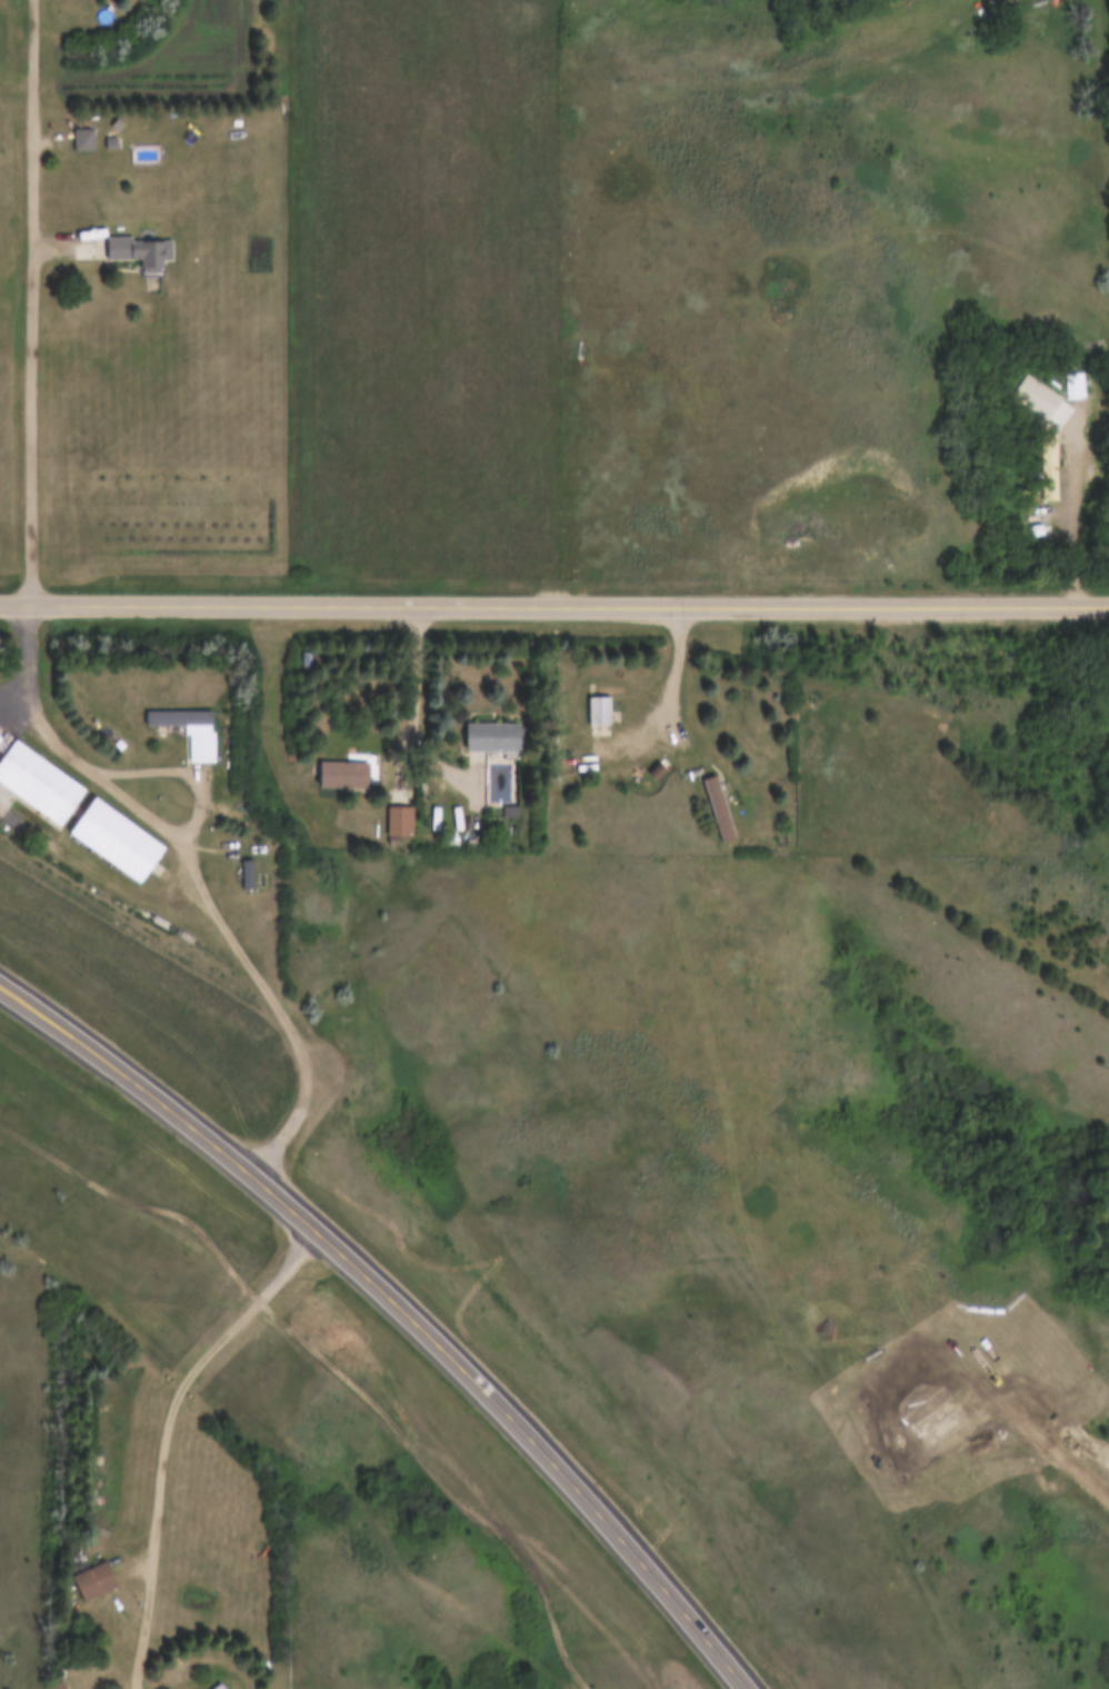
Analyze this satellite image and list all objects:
building: (79, 141)
building: (138, 251)
road: (36, 301)
road: (553, 603)
road: (30, 652)
building: (304, 659)
road: (679, 675)
road: (420, 676)
building: (595, 715)
building: (191, 732)
building: (490, 736)
road: (186, 766)
building: (342, 774)
building: (39, 779)
building: (716, 809)
building: (119, 841)
road: (222, 917)
road: (407, 1305)
road: (167, 1431)
building: (93, 1582)
building: (56, 1686)
building: (222, 1687)

